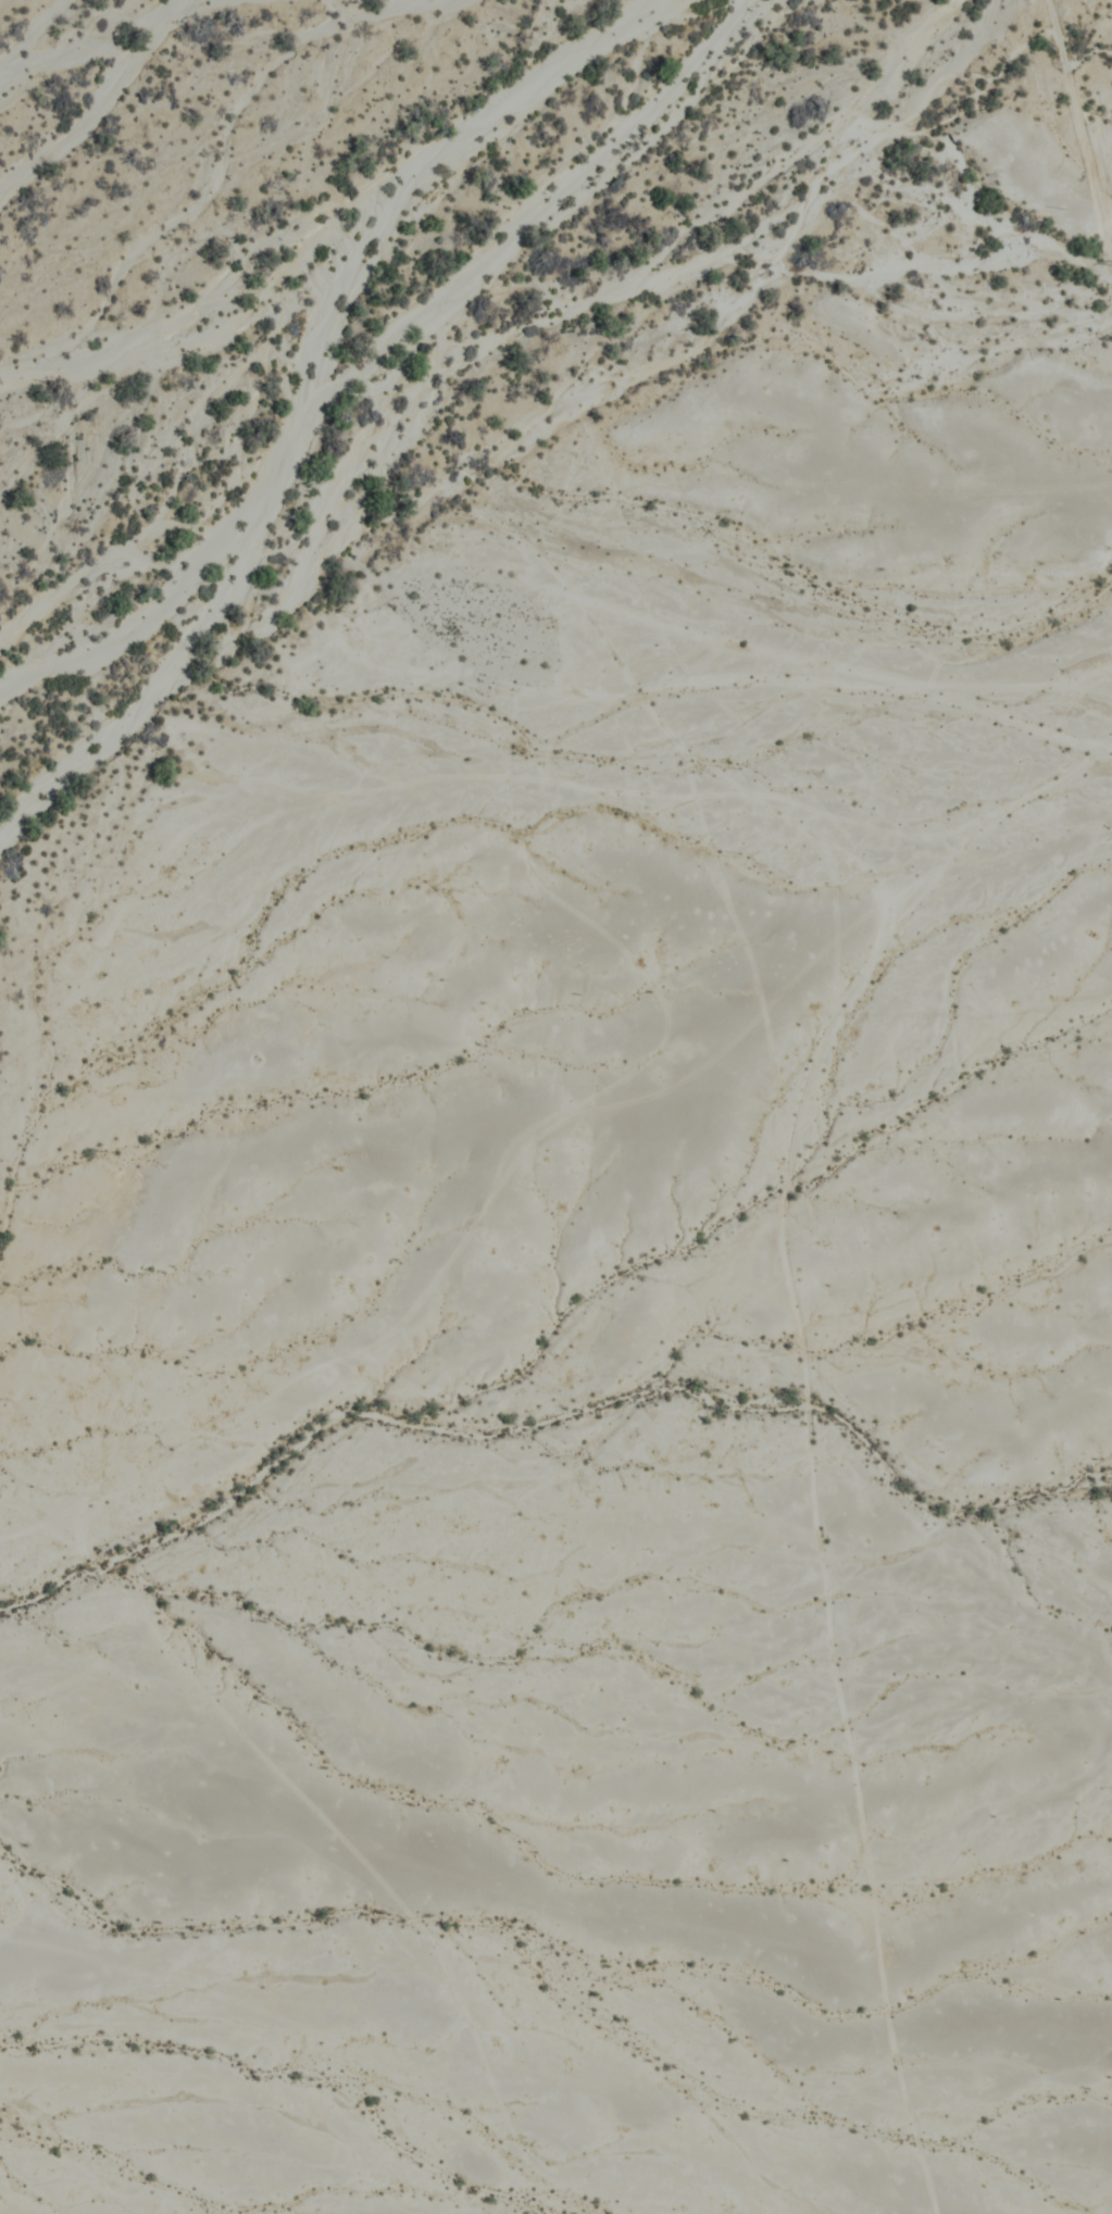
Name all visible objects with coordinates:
road: (1077, 138)

